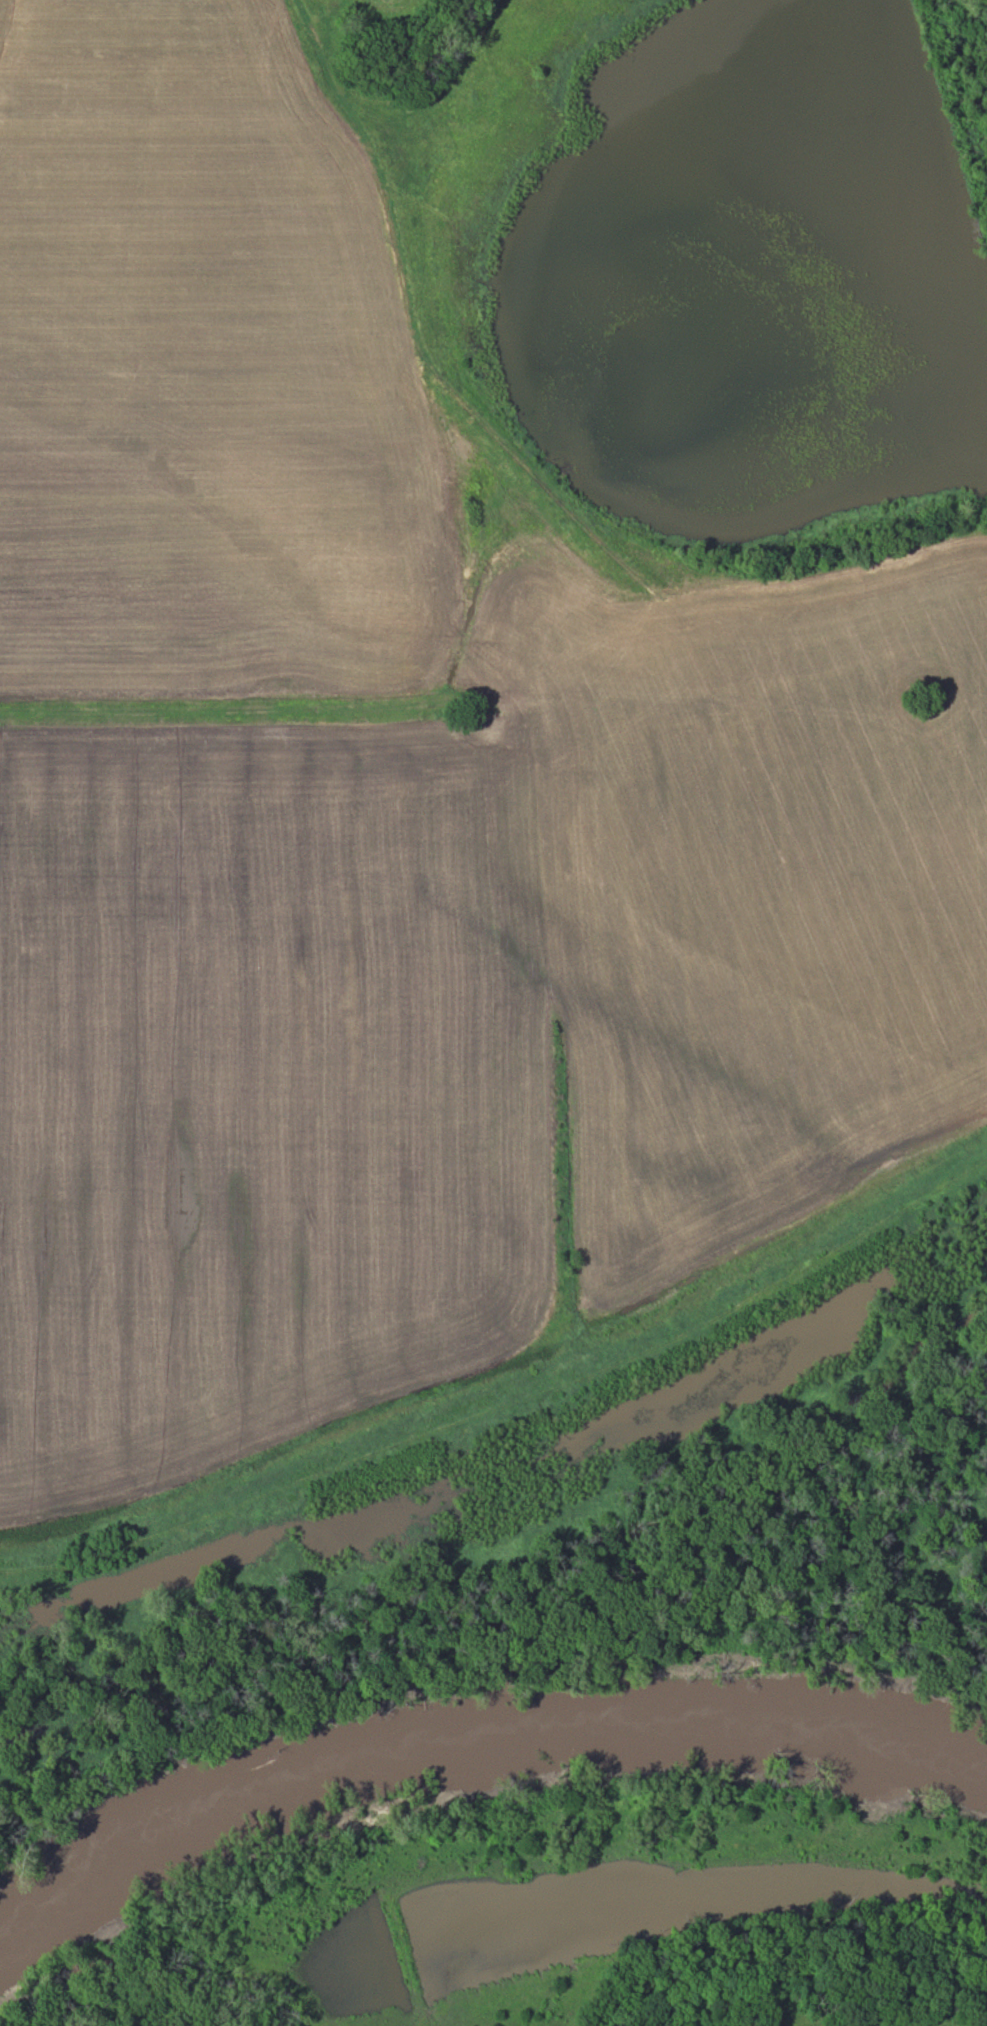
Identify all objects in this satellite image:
river: (469, 1732)

